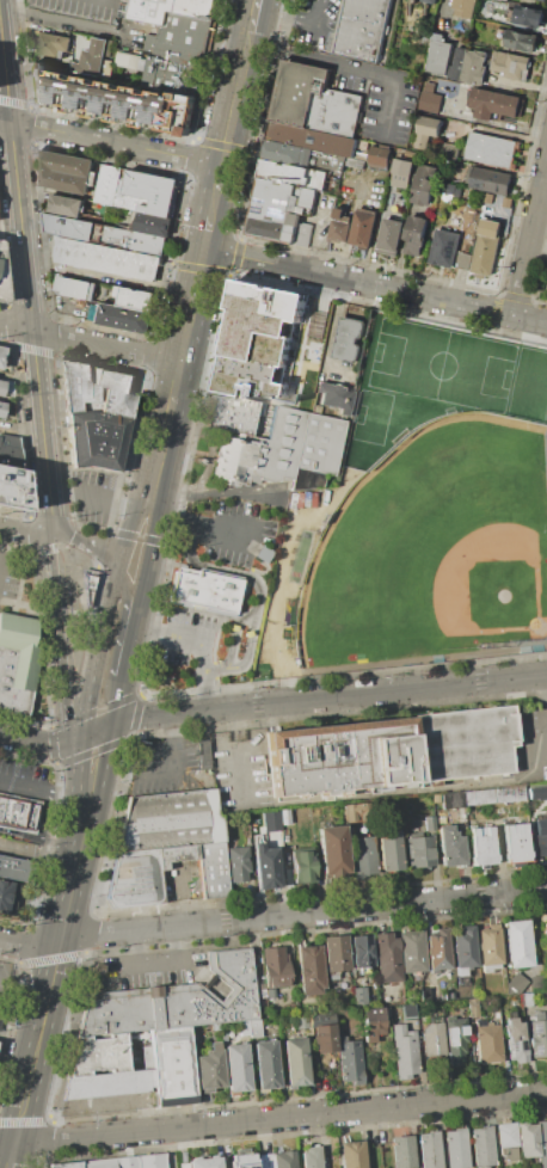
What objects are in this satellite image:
building: (434, 0)
road: (256, 5)
building: (466, 5)
parking lot: (81, 8)
building: (171, 10)
building: (529, 16)
road: (299, 20)
road: (68, 23)
parking lot: (318, 24)
building: (364, 27)
building: (180, 39)
building: (521, 39)
building: (53, 45)
building: (96, 56)
building: (440, 56)
building: (511, 63)
building: (457, 64)
building: (475, 67)
road: (350, 68)
building: (173, 76)
road: (238, 87)
building: (301, 93)
building: (113, 99)
building: (430, 100)
building: (496, 103)
building: (340, 112)
road: (5, 122)
building: (429, 125)
building: (312, 137)
building: (422, 140)
road: (115, 145)
building: (491, 149)
building: (447, 150)
building: (283, 152)
building: (380, 155)
building: (328, 159)
building: (355, 162)
building: (404, 167)
building: (62, 174)
building: (293, 174)
road: (220, 179)
building: (491, 179)
building: (425, 184)
building: (445, 188)
building: (136, 193)
building: (308, 197)
building: (488, 197)
building: (272, 199)
building: (508, 202)
building: (294, 203)
road: (215, 204)
building: (66, 208)
building: (340, 226)
building: (150, 227)
building: (268, 227)
building: (363, 228)
building: (290, 232)
road: (209, 233)
building: (302, 233)
building: (391, 234)
building: (103, 235)
building: (416, 235)
road: (533, 244)
building: (445, 247)
building: (487, 247)
traffic signals: (207, 250)
building: (105, 257)
building: (462, 260)
road: (29, 281)
road: (376, 284)
building: (1, 289)
building: (73, 290)
building: (134, 302)
road: (193, 307)
building: (123, 320)
building: (260, 340)
building: (349, 340)
road: (91, 344)
building: (1, 352)
road: (177, 383)
building: (1, 387)
building: (97, 388)
building: (336, 398)
building: (1, 408)
building: (229, 417)
road: (21, 429)
building: (96, 438)
building: (8, 450)
building: (283, 453)
road: (160, 455)
building: (13, 492)
road: (216, 493)
road: (99, 497)
parking lot: (94, 499)
road: (192, 524)
road: (129, 529)
parking lot: (229, 533)
road: (24, 534)
road: (1, 536)
road: (73, 540)
park: (434, 553)
road: (107, 555)
road: (149, 557)
parking lot: (11, 576)
building: (86, 585)
road: (259, 588)
building: (207, 590)
road: (54, 616)
road: (234, 632)
parking lot: (184, 635)
road: (118, 643)
road: (131, 643)
road: (202, 643)
building: (20, 662)
road: (271, 706)
road: (66, 720)
road: (79, 739)
building: (463, 743)
building: (340, 756)
road: (172, 762)
parking lot: (171, 767)
road: (36, 788)
building: (543, 791)
building: (535, 792)
road: (405, 794)
building: (509, 794)
building: (436, 798)
building: (478, 798)
building: (451, 799)
road: (97, 801)
building: (356, 810)
building: (18, 814)
building: (211, 818)
road: (79, 819)
building: (162, 820)
building: (430, 823)
building: (540, 826)
road: (32, 837)
building: (515, 843)
building: (541, 846)
building: (450, 847)
building: (480, 847)
building: (332, 850)
building: (389, 850)
building: (419, 852)
building: (176, 854)
building: (362, 856)
road: (30, 859)
building: (238, 863)
building: (302, 865)
building: (265, 866)
building: (13, 868)
building: (211, 868)
building: (134, 878)
building: (7, 897)
road: (272, 916)
building: (546, 934)
road: (60, 942)
building: (517, 943)
building: (490, 945)
building: (463, 946)
building: (438, 949)
building: (361, 951)
building: (412, 952)
building: (334, 953)
building: (387, 958)
road: (158, 961)
road: (127, 965)
building: (275, 966)
building: (311, 969)
road: (24, 989)
road: (49, 989)
building: (359, 996)
building: (176, 1001)
building: (473, 1007)
building: (408, 1013)
building: (319, 1019)
building: (301, 1021)
building: (373, 1022)
building: (215, 1027)
building: (254, 1028)
building: (318, 1032)
building: (537, 1035)
building: (431, 1039)
building: (455, 1040)
building: (515, 1040)
building: (487, 1043)
building: (405, 1050)
building: (99, 1055)
building: (295, 1062)
building: (350, 1062)
building: (265, 1065)
building: (172, 1066)
building: (209, 1069)
building: (235, 1069)
road: (27, 1081)
building: (111, 1084)
road: (272, 1120)
building: (527, 1139)
building: (506, 1141)
building: (542, 1142)
building: (484, 1147)
building: (456, 1148)
building: (429, 1150)
building: (402, 1151)
building: (350, 1154)
road: (11, 1157)
building: (311, 1157)
building: (277, 1160)
building: (150, 1161)
building: (242, 1161)
building: (127, 1162)
building: (97, 1163)
building: (199, 1163)
building: (62, 1166)

